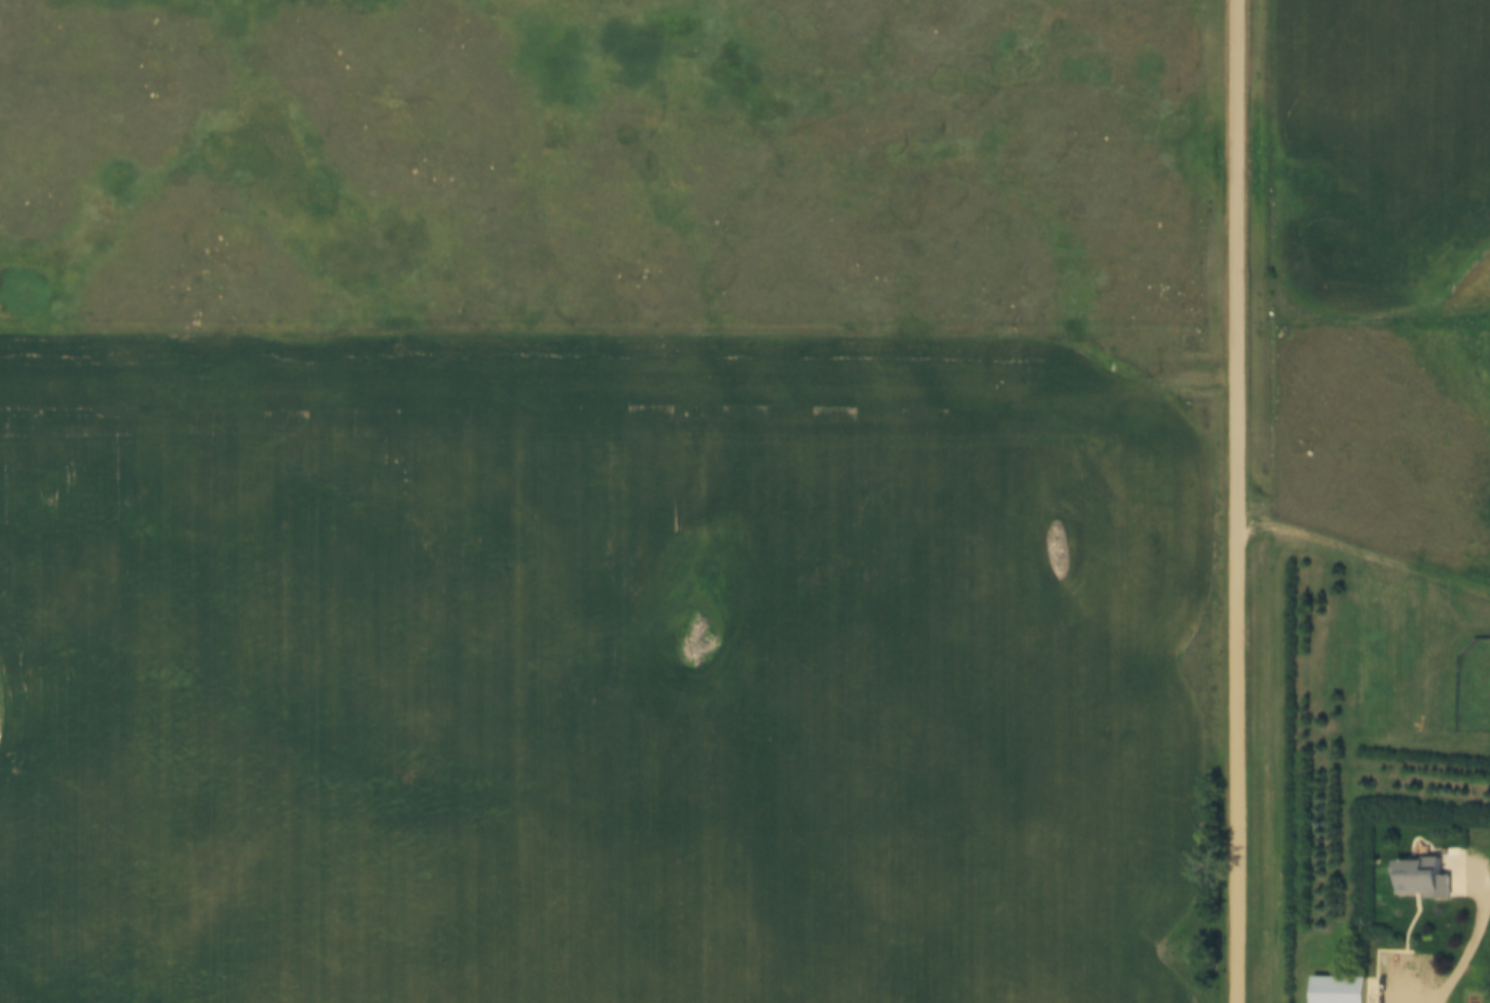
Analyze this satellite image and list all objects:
road: (1233, 501)
road: (1361, 552)
road: (1430, 838)
building: (1422, 877)
building: (1333, 989)

